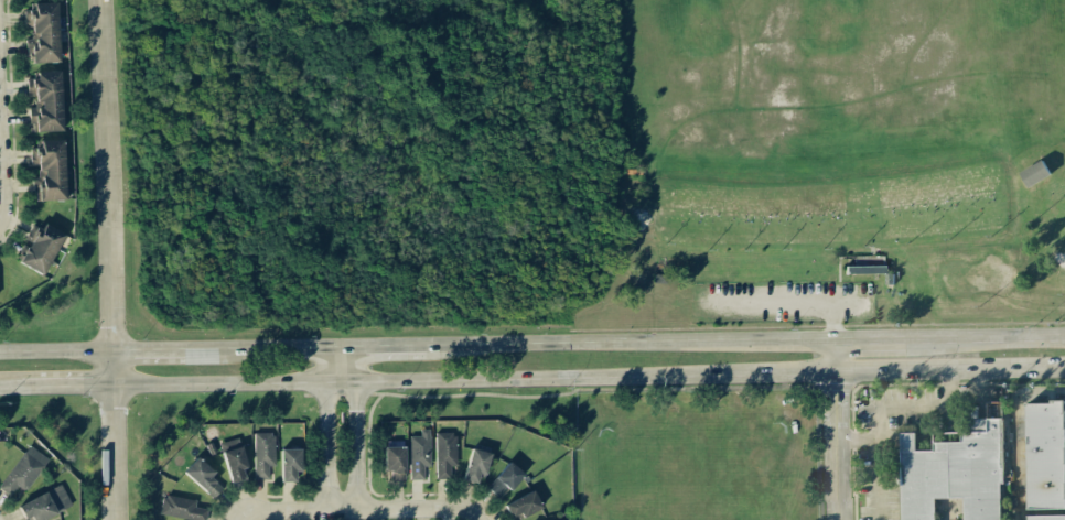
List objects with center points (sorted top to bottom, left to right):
building: (42, 32)
building: (44, 100)
building: (47, 171)
building: (1034, 173)
road: (105, 192)
building: (41, 248)
building: (864, 270)
road: (987, 338)
road: (871, 340)
road: (632, 344)
road: (392, 346)
road: (291, 348)
road: (168, 351)
road: (54, 353)
road: (949, 369)
road: (472, 380)
road: (73, 384)
road: (19, 386)
road: (1040, 396)
road: (883, 414)
road: (326, 427)
road: (356, 427)
road: (837, 430)
road: (109, 452)
building: (262, 454)
building: (419, 454)
building: (444, 454)
building: (1045, 455)
building: (233, 458)
road: (1016, 458)
building: (394, 462)
building: (289, 465)
building: (475, 465)
building: (23, 470)
building: (953, 475)
building: (203, 477)
building: (504, 479)
building: (44, 505)
building: (523, 505)
building: (181, 508)
road: (359, 508)
building: (1046, 517)
road: (474, 518)

